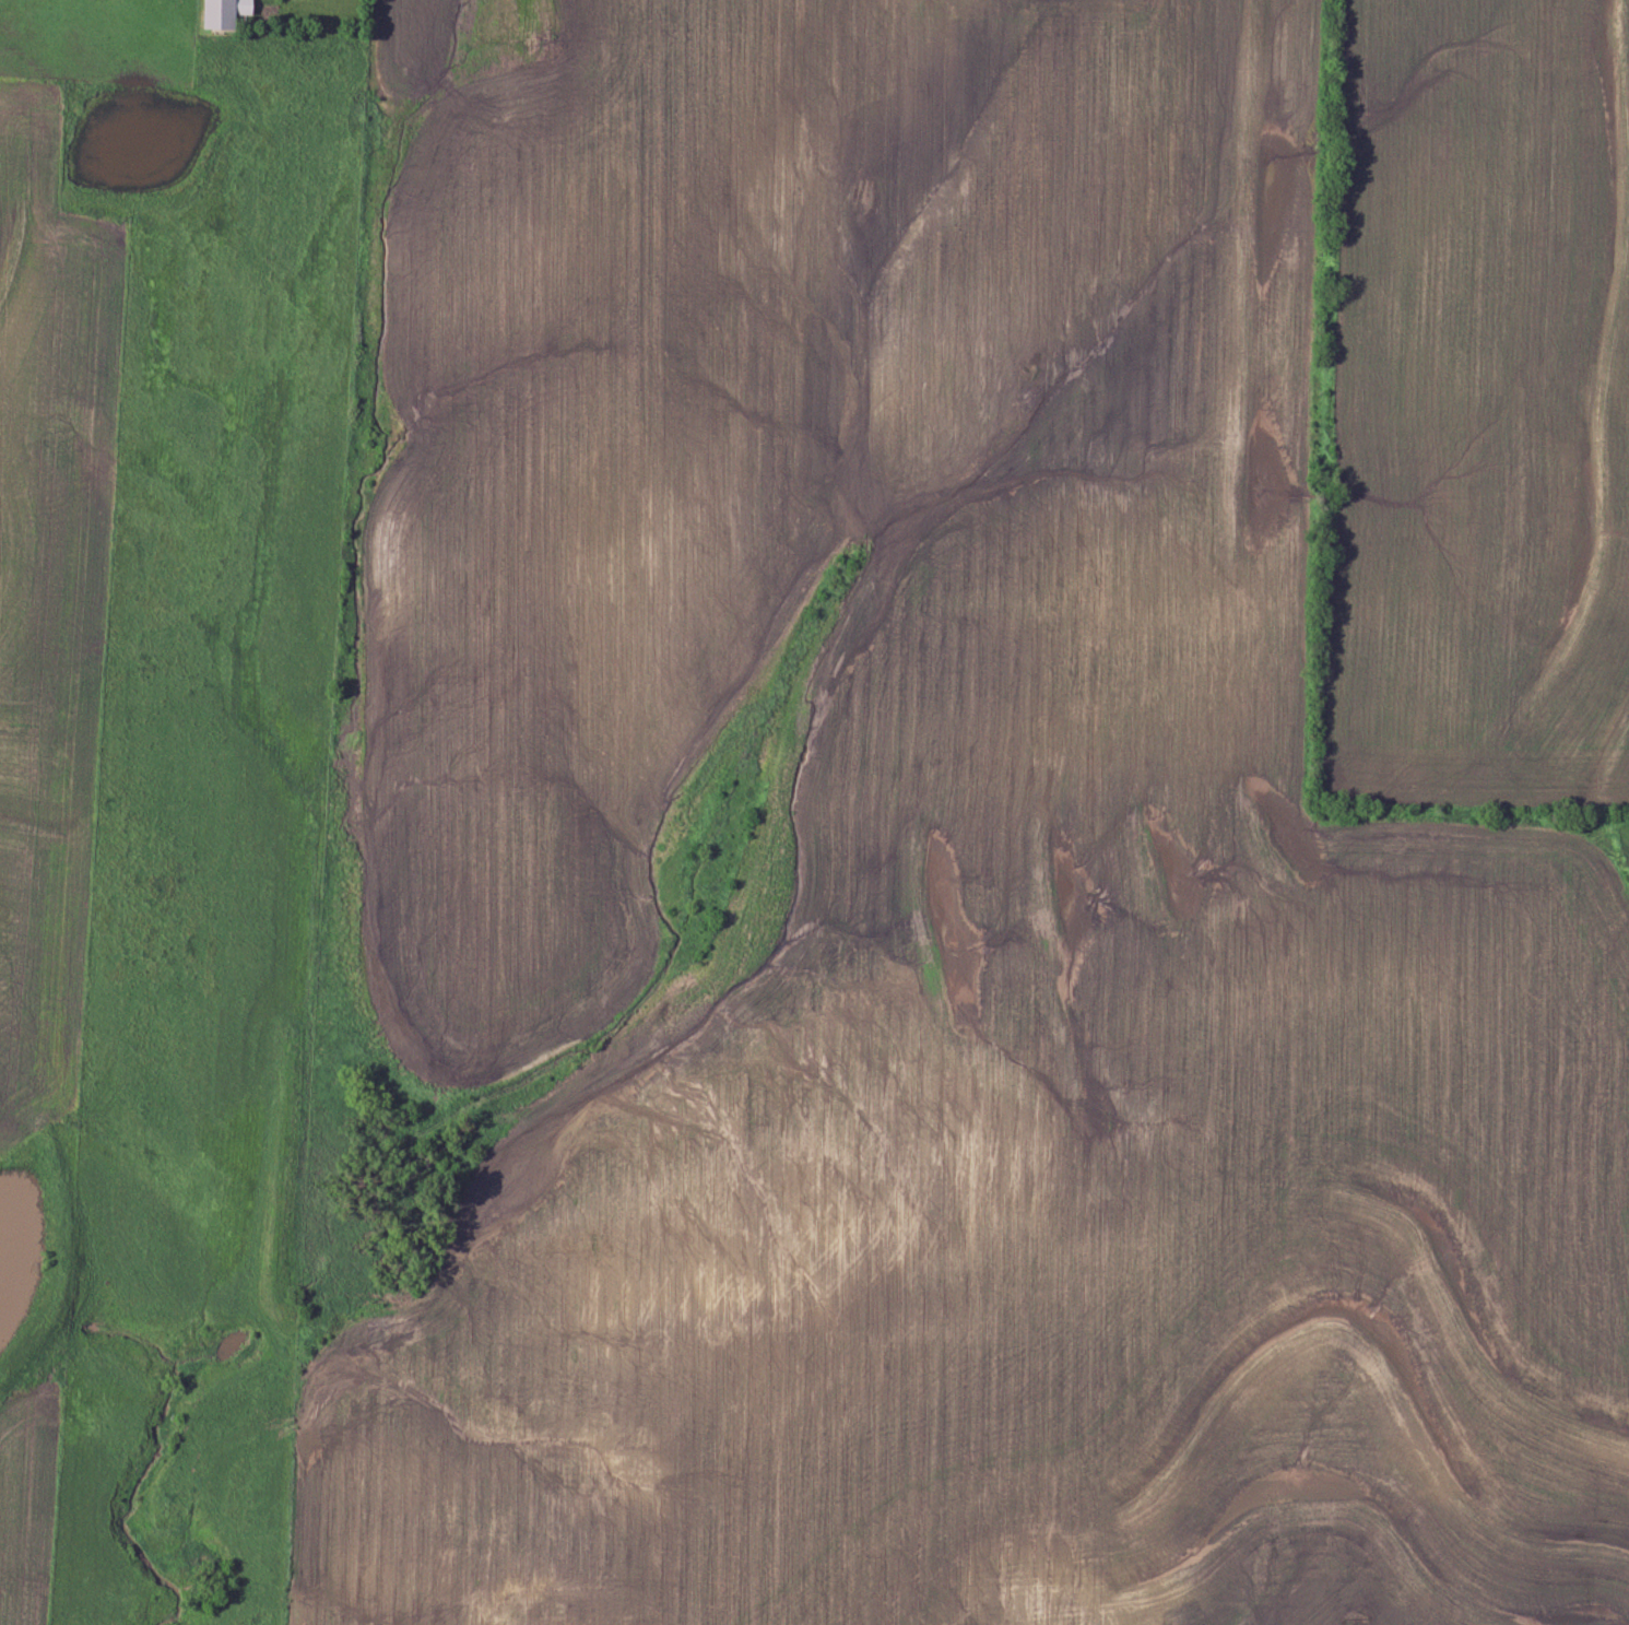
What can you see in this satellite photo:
building: (216, 13)
crop: (1476, 408)
crop: (934, 871)

